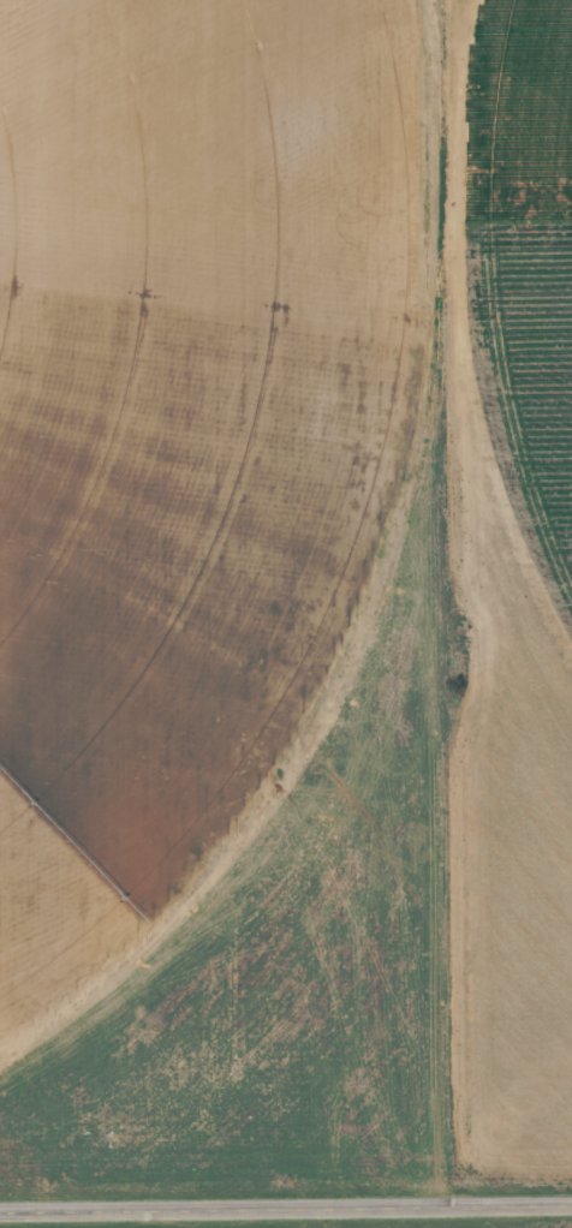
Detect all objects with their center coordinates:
road: (286, 1211)

